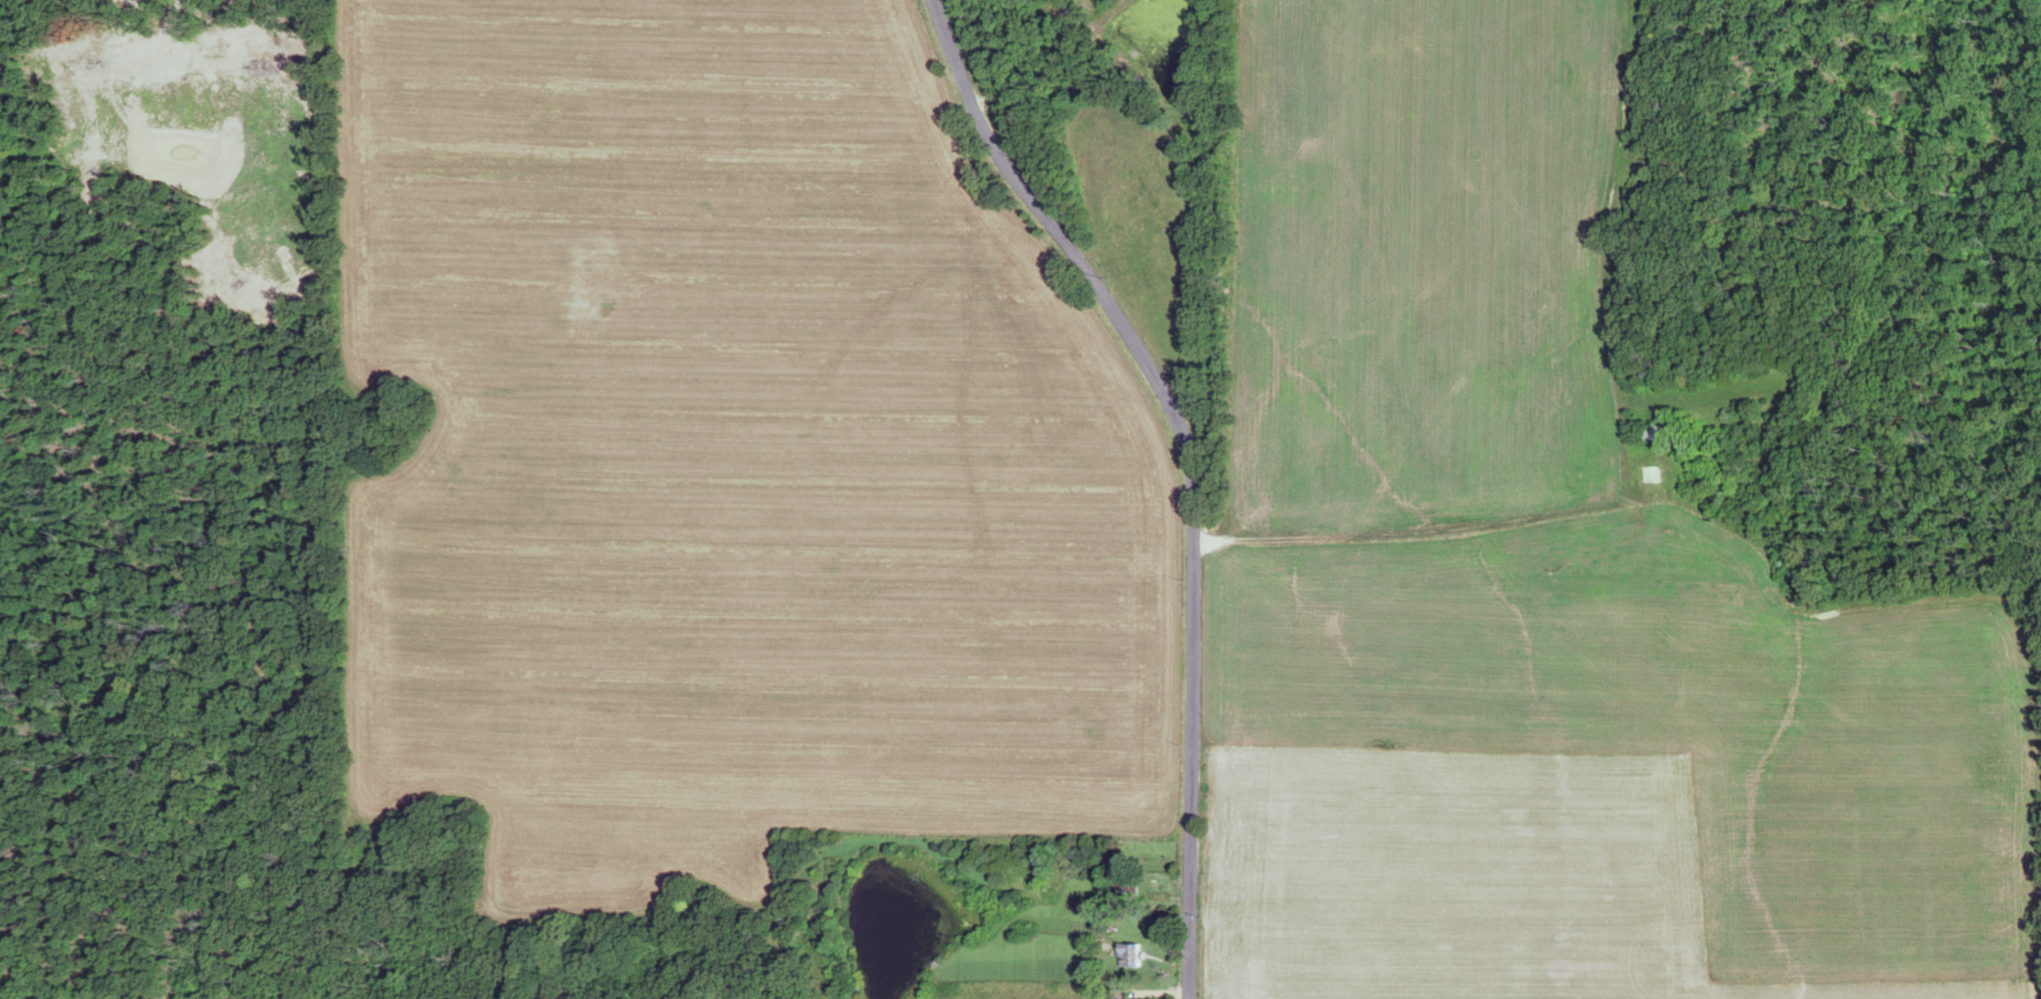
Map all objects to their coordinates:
road: (1191, 463)
building: (1647, 475)
road: (1415, 532)
building: (1626, 542)
building: (1125, 956)

